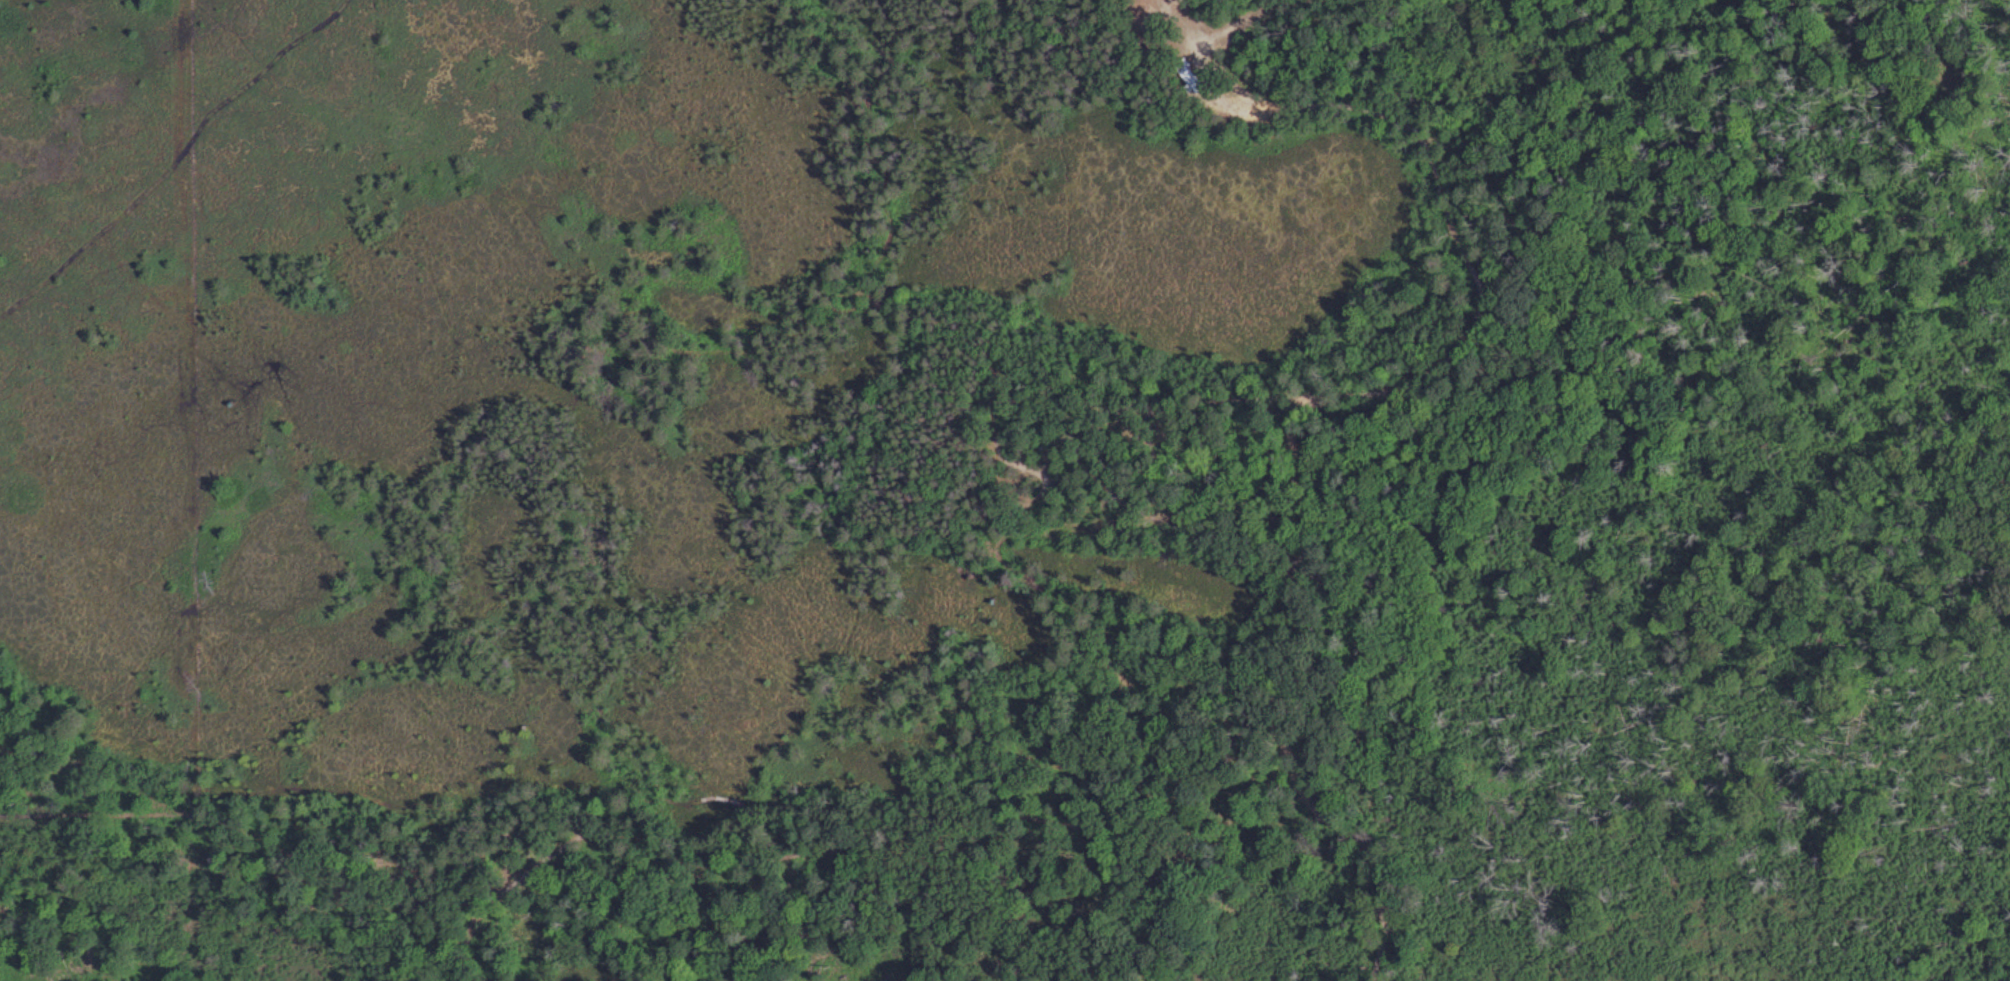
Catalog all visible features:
road: (1219, 33)
building: (1187, 76)

